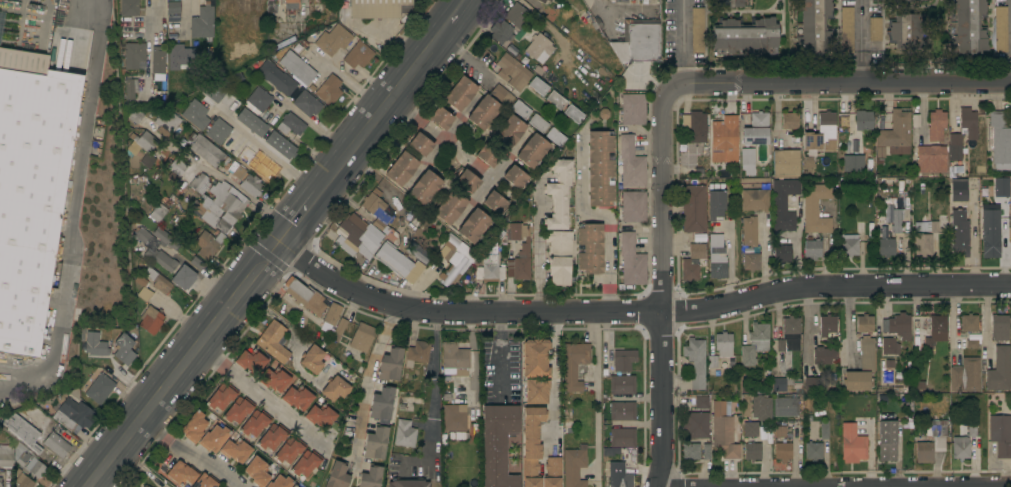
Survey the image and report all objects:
building: (5, 0)
building: (549, 0)
building: (555, 0)
building: (908, 0)
building: (542, 1)
road: (162, 3)
building: (734, 3)
building: (262, 6)
building: (290, 6)
building: (173, 7)
building: (234, 7)
building: (129, 8)
building: (378, 8)
road: (308, 10)
building: (517, 15)
building: (257, 22)
building: (202, 23)
road: (858, 25)
building: (221, 27)
building: (813, 27)
building: (966, 27)
building: (846, 29)
building: (875, 29)
building: (1000, 29)
building: (697, 30)
building: (907, 31)
road: (685, 32)
building: (501, 33)
building: (745, 37)
building: (333, 40)
building: (638, 41)
building: (282, 44)
building: (542, 44)
building: (134, 54)
building: (358, 55)
building: (180, 57)
road: (465, 59)
building: (158, 63)
road: (859, 66)
building: (297, 68)
building: (512, 72)
road: (687, 74)
building: (234, 78)
building: (277, 78)
road: (838, 82)
building: (538, 86)
building: (130, 87)
building: (329, 90)
building: (460, 94)
building: (501, 95)
building: (259, 99)
building: (555, 100)
building: (306, 104)
building: (632, 108)
building: (520, 109)
building: (483, 112)
building: (573, 113)
building: (133, 114)
building: (441, 118)
building: (165, 120)
building: (936, 120)
building: (694, 121)
building: (790, 121)
building: (863, 121)
building: (206, 122)
building: (537, 123)
building: (291, 124)
building: (257, 125)
building: (509, 132)
building: (962, 133)
building: (758, 134)
building: (896, 134)
road: (436, 135)
building: (555, 137)
building: (820, 137)
building: (999, 140)
building: (725, 141)
building: (141, 143)
building: (280, 144)
building: (420, 144)
building: (206, 150)
building: (532, 151)
road: (270, 152)
building: (488, 155)
building: (880, 155)
building: (930, 155)
building: (747, 158)
building: (146, 160)
building: (853, 163)
building: (630, 164)
building: (786, 164)
building: (259, 165)
building: (174, 167)
building: (401, 169)
building: (600, 169)
road: (218, 175)
building: (515, 177)
building: (246, 181)
building: (467, 181)
building: (200, 183)
building: (424, 187)
building: (1001, 187)
building: (31, 190)
building: (959, 190)
building: (558, 194)
road: (76, 197)
building: (755, 200)
building: (716, 202)
building: (495, 203)
building: (783, 204)
building: (220, 207)
building: (450, 207)
building: (633, 207)
building: (693, 208)
building: (815, 209)
building: (376, 210)
building: (158, 213)
building: (461, 215)
building: (896, 221)
road: (607, 223)
building: (473, 226)
building: (929, 226)
building: (858, 227)
building: (959, 233)
building: (749, 234)
building: (991, 234)
building: (358, 235)
building: (885, 243)
building: (208, 244)
road: (278, 244)
building: (923, 244)
building: (849, 247)
building: (590, 248)
building: (812, 248)
building: (151, 250)
building: (519, 251)
building: (697, 251)
road: (538, 252)
building: (782, 253)
building: (716, 257)
building: (560, 259)
building: (454, 261)
building: (631, 261)
building: (399, 262)
building: (751, 262)
building: (489, 268)
building: (689, 271)
building: (183, 277)
building: (159, 282)
road: (663, 285)
building: (143, 289)
building: (305, 296)
road: (638, 313)
building: (331, 314)
building: (151, 320)
building: (969, 322)
building: (864, 323)
building: (897, 325)
building: (828, 326)
building: (999, 327)
building: (938, 328)
building: (338, 329)
building: (788, 334)
building: (362, 338)
building: (273, 342)
building: (754, 343)
building: (971, 343)
building: (723, 344)
building: (95, 345)
building: (890, 346)
building: (124, 350)
building: (417, 353)
building: (824, 355)
road: (500, 356)
building: (534, 357)
building: (312, 360)
building: (454, 360)
building: (623, 360)
parking lot: (8, 361)
building: (251, 361)
building: (711, 361)
building: (695, 362)
building: (391, 364)
building: (574, 365)
building: (862, 368)
building: (998, 372)
road: (433, 374)
building: (808, 374)
building: (965, 375)
road: (552, 376)
road: (7, 377)
road: (366, 378)
building: (274, 380)
road: (7, 381)
building: (622, 384)
building: (778, 384)
building: (99, 388)
building: (335, 389)
building: (536, 391)
road: (596, 394)
building: (222, 396)
road: (263, 396)
building: (297, 397)
building: (382, 403)
building: (787, 406)
building: (761, 408)
building: (238, 410)
building: (622, 411)
building: (73, 415)
building: (320, 416)
building: (454, 418)
building: (696, 420)
building: (255, 423)
building: (194, 427)
building: (824, 429)
building: (723, 430)
building: (781, 431)
building: (20, 432)
building: (405, 434)
building: (1000, 435)
building: (272, 437)
building: (214, 438)
building: (622, 438)
building: (887, 440)
building: (751, 441)
building: (931, 441)
building: (375, 442)
building: (56, 444)
building: (498, 444)
building: (853, 444)
building: (531, 446)
building: (961, 448)
building: (235, 450)
building: (289, 450)
building: (813, 450)
road: (191, 451)
building: (783, 451)
building: (690, 452)
building: (706, 452)
building: (6, 456)
building: (27, 460)
building: (306, 463)
building: (574, 466)
building: (258, 471)
building: (552, 472)
building: (182, 474)
building: (337, 475)
building: (619, 475)
building: (371, 476)
building: (23, 481)
building: (204, 481)
building: (0, 482)
building: (280, 482)
building: (408, 483)
building: (147, 486)
building: (294, 486)
road: (833, 486)
road: (883, 486)

